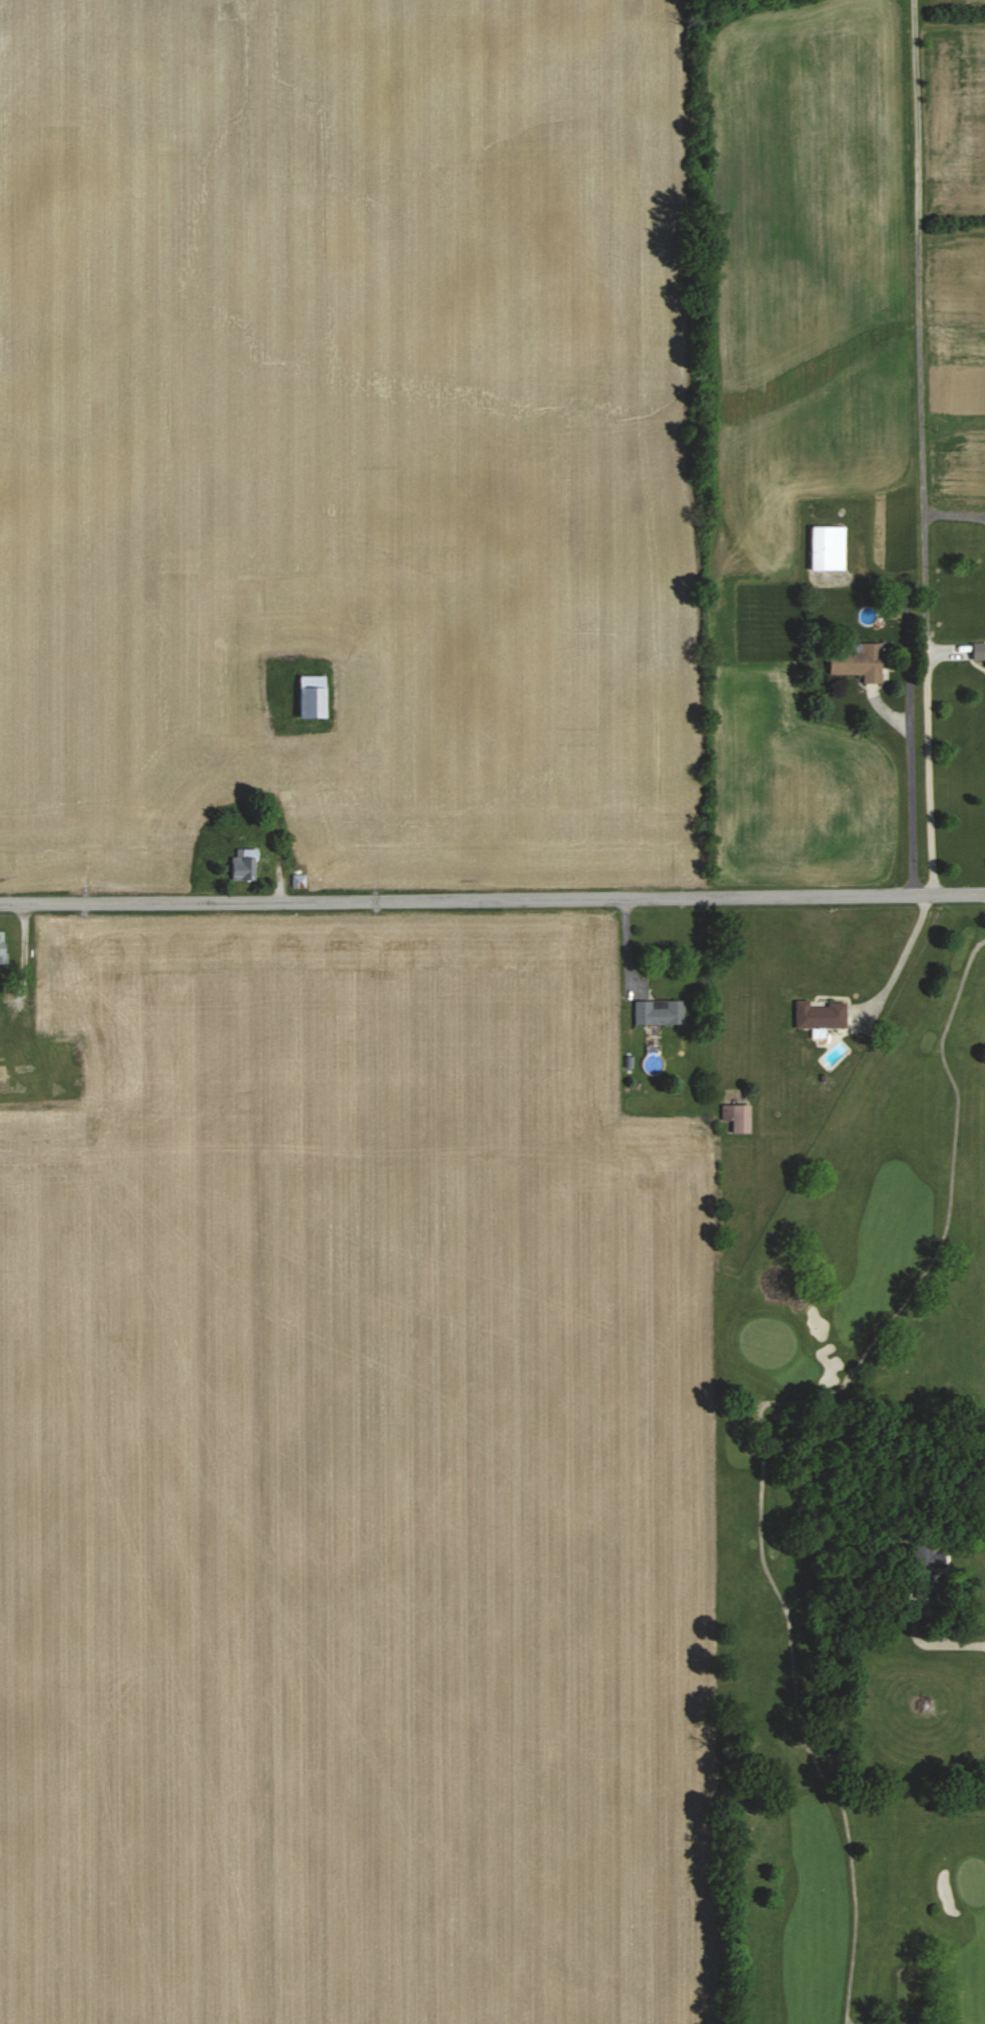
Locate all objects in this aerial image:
road: (922, 448)
building: (828, 548)
building: (978, 651)
building: (859, 662)
building: (313, 696)
road: (911, 782)
building: (244, 864)
road: (492, 900)
building: (3, 947)
road: (901, 953)
building: (660, 1012)
building: (820, 1014)
building: (738, 1118)
building: (927, 1569)

